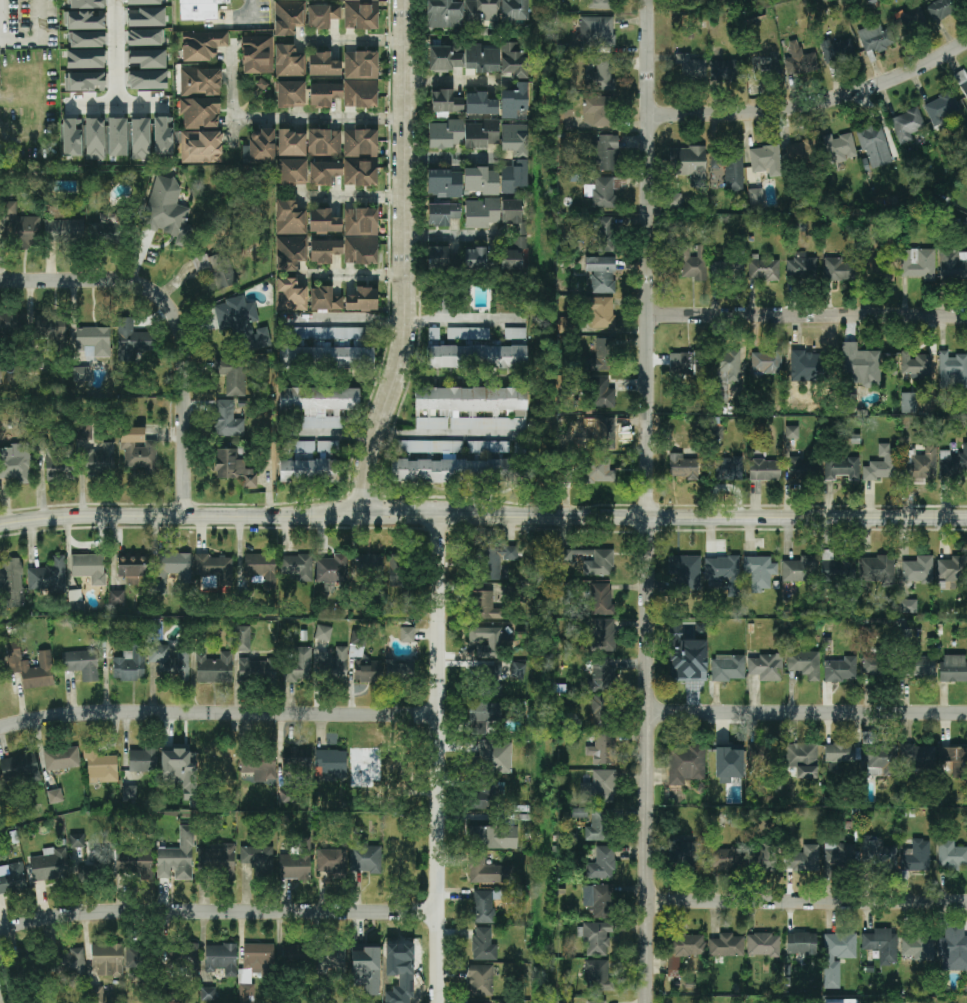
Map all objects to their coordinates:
building: (280, 0)
building: (86, 4)
building: (599, 4)
building: (200, 9)
building: (942, 9)
building: (482, 11)
building: (514, 11)
building: (361, 14)
building: (444, 14)
building: (322, 16)
road: (244, 17)
building: (289, 17)
building: (83, 21)
building: (909, 21)
building: (597, 32)
road: (33, 37)
road: (342, 38)
road: (396, 38)
building: (875, 38)
building: (87, 39)
building: (202, 45)
road: (116, 51)
building: (837, 51)
building: (257, 55)
building: (148, 58)
building: (446, 58)
building: (85, 59)
building: (482, 59)
building: (513, 60)
building: (799, 60)
building: (289, 61)
building: (323, 65)
building: (361, 65)
building: (690, 67)
building: (766, 67)
building: (726, 72)
building: (600, 76)
building: (147, 80)
building: (962, 81)
building: (84, 82)
building: (200, 82)
road: (455, 83)
building: (291, 94)
building: (324, 94)
building: (360, 94)
building: (514, 101)
building: (446, 102)
road: (814, 102)
road: (116, 103)
building: (480, 104)
building: (941, 107)
building: (598, 111)
building: (200, 112)
road: (396, 118)
road: (277, 119)
building: (564, 119)
building: (907, 125)
building: (445, 134)
building: (481, 134)
building: (163, 136)
building: (94, 139)
building: (140, 139)
building: (515, 139)
building: (324, 142)
building: (291, 143)
building: (875, 146)
building: (201, 147)
building: (259, 147)
building: (839, 148)
building: (800, 152)
building: (606, 153)
building: (360, 157)
road: (451, 159)
building: (766, 160)
building: (689, 164)
building: (730, 169)
building: (292, 172)
building: (324, 172)
building: (514, 176)
building: (481, 180)
building: (445, 183)
building: (601, 192)
road: (397, 195)
road: (341, 196)
building: (756, 196)
building: (674, 201)
building: (167, 210)
building: (481, 213)
building: (443, 214)
building: (513, 216)
building: (289, 218)
building: (324, 221)
building: (20, 227)
building: (107, 228)
building: (64, 231)
building: (605, 234)
building: (360, 236)
road: (453, 236)
building: (324, 251)
building: (290, 252)
building: (513, 255)
building: (442, 258)
building: (475, 259)
road: (410, 260)
building: (203, 262)
building: (693, 263)
building: (918, 264)
building: (953, 265)
building: (802, 267)
building: (877, 267)
building: (841, 269)
building: (763, 270)
building: (727, 271)
road: (343, 273)
road: (398, 273)
building: (601, 274)
building: (221, 278)
building: (290, 295)
building: (325, 299)
building: (362, 300)
building: (441, 306)
building: (601, 312)
road: (808, 315)
road: (345, 317)
road: (463, 317)
road: (178, 319)
building: (242, 322)
building: (11, 324)
building: (46, 333)
building: (93, 341)
building: (132, 341)
building: (326, 348)
building: (476, 348)
building: (602, 355)
building: (767, 362)
building: (805, 364)
building: (916, 364)
building: (686, 365)
building: (860, 366)
building: (952, 371)
building: (725, 373)
building: (0, 374)
building: (81, 374)
building: (233, 376)
building: (602, 393)
building: (908, 401)
building: (464, 403)
building: (318, 407)
building: (227, 420)
road: (447, 431)
building: (792, 432)
building: (605, 433)
road: (339, 434)
building: (39, 444)
building: (488, 447)
building: (138, 452)
building: (99, 461)
building: (310, 461)
building: (881, 463)
building: (954, 463)
building: (60, 464)
building: (16, 465)
building: (683, 465)
building: (921, 465)
building: (233, 467)
building: (728, 468)
building: (802, 468)
building: (842, 468)
building: (765, 469)
building: (452, 470)
building: (599, 470)
road: (649, 501)
road: (483, 516)
building: (492, 561)
building: (564, 562)
building: (601, 562)
building: (174, 566)
building: (297, 566)
building: (213, 567)
building: (259, 567)
building: (836, 567)
building: (369, 568)
building: (877, 568)
building: (88, 569)
building: (331, 569)
building: (685, 569)
building: (800, 569)
building: (917, 570)
building: (951, 570)
building: (128, 571)
building: (722, 571)
building: (759, 572)
building: (48, 576)
building: (395, 580)
building: (12, 581)
building: (116, 597)
building: (601, 599)
building: (76, 601)
building: (483, 605)
building: (408, 633)
building: (323, 634)
building: (603, 636)
building: (243, 638)
building: (357, 638)
building: (486, 641)
building: (168, 662)
building: (805, 663)
building: (81, 664)
building: (131, 664)
building: (334, 665)
building: (681, 665)
building: (874, 665)
building: (298, 666)
building: (766, 666)
building: (919, 666)
building: (214, 667)
building: (727, 668)
building: (953, 668)
building: (257, 670)
building: (400, 670)
building: (839, 670)
building: (37, 671)
building: (518, 671)
building: (367, 673)
building: (600, 677)
building: (490, 680)
building: (604, 711)
road: (808, 713)
road: (219, 714)
building: (483, 715)
building: (603, 750)
building: (842, 753)
building: (725, 756)
building: (759, 756)
building: (66, 758)
building: (487, 758)
building: (801, 758)
building: (917, 758)
building: (176, 759)
road: (439, 759)
building: (954, 759)
building: (142, 760)
building: (297, 760)
building: (881, 760)
building: (258, 761)
building: (331, 761)
building: (217, 764)
building: (388, 764)
building: (684, 766)
building: (99, 767)
building: (22, 768)
building: (599, 787)
building: (55, 796)
building: (484, 797)
building: (599, 826)
building: (490, 837)
building: (77, 841)
building: (398, 850)
building: (684, 854)
building: (951, 854)
building: (916, 855)
building: (177, 857)
building: (256, 857)
building: (838, 857)
building: (879, 857)
building: (724, 858)
building: (804, 858)
building: (365, 859)
building: (331, 860)
building: (760, 860)
building: (96, 861)
building: (133, 861)
building: (216, 861)
building: (601, 864)
building: (50, 865)
building: (293, 867)
building: (489, 871)
building: (79, 874)
building: (12, 879)
building: (598, 899)
road: (808, 903)
building: (483, 907)
road: (219, 914)
building: (595, 939)
building: (800, 943)
building: (881, 943)
building: (483, 944)
building: (726, 944)
building: (763, 944)
building: (917, 947)
building: (683, 948)
building: (953, 948)
building: (257, 954)
building: (295, 954)
building: (220, 956)
building: (143, 958)
building: (833, 959)
building: (106, 960)
building: (178, 960)
building: (330, 960)
building: (69, 961)
building: (365, 969)
building: (596, 974)
building: (479, 980)
building: (208, 994)
building: (98, 995)
building: (559, 1000)
building: (850, 1001)
building: (484, 1002)
building: (595, 1002)

